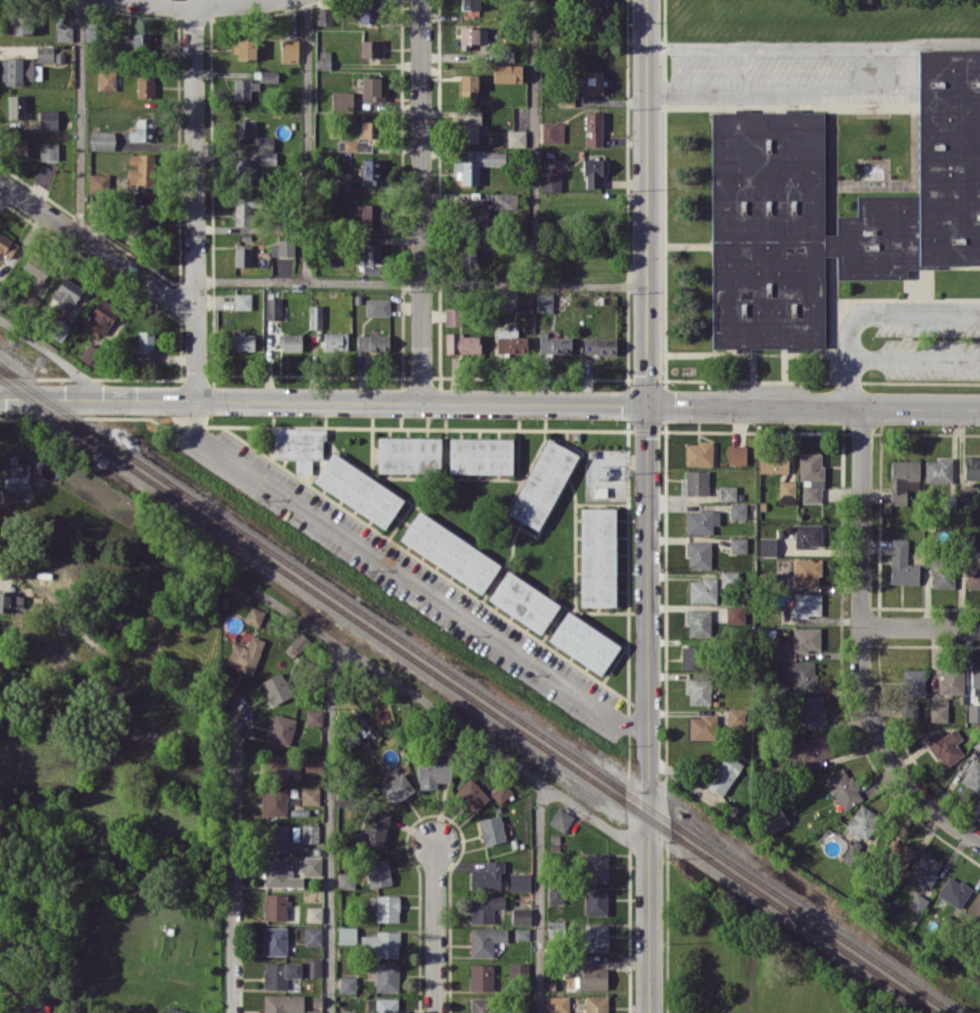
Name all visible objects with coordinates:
building: (469, 4)
road: (197, 5)
building: (593, 6)
building: (369, 11)
building: (324, 16)
building: (20, 24)
building: (64, 31)
building: (472, 36)
road: (936, 39)
building: (141, 43)
road: (770, 47)
building: (371, 48)
building: (246, 49)
building: (289, 50)
building: (45, 53)
road: (894, 68)
building: (19, 70)
building: (507, 73)
building: (268, 75)
building: (107, 80)
building: (595, 82)
building: (468, 85)
building: (145, 86)
building: (372, 87)
road: (770, 88)
building: (242, 89)
building: (342, 99)
building: (16, 106)
road: (78, 118)
building: (48, 119)
building: (469, 125)
building: (368, 128)
building: (593, 128)
building: (243, 129)
building: (143, 130)
building: (552, 131)
building: (516, 138)
building: (102, 140)
road: (307, 140)
road: (533, 142)
building: (354, 145)
building: (20, 148)
building: (266, 150)
building: (48, 151)
building: (477, 164)
building: (141, 169)
building: (243, 170)
building: (371, 170)
building: (592, 172)
building: (551, 180)
building: (342, 185)
road: (420, 200)
building: (505, 200)
road: (194, 203)
building: (918, 205)
building: (245, 209)
building: (370, 213)
building: (142, 214)
building: (475, 216)
building: (7, 246)
building: (282, 247)
road: (97, 248)
building: (243, 255)
building: (468, 256)
building: (371, 258)
building: (37, 270)
road: (421, 282)
building: (67, 292)
building: (242, 300)
building: (544, 301)
building: (524, 302)
building: (377, 306)
building: (273, 308)
road: (870, 309)
building: (103, 314)
building: (315, 316)
building: (453, 316)
building: (59, 329)
building: (335, 340)
building: (145, 341)
building: (244, 341)
building: (291, 342)
building: (373, 342)
building: (510, 342)
building: (462, 343)
building: (554, 344)
building: (599, 345)
building: (89, 353)
road: (55, 358)
road: (915, 360)
road: (490, 401)
building: (298, 445)
building: (698, 453)
building: (409, 454)
building: (737, 454)
building: (480, 455)
building: (774, 462)
building: (972, 467)
building: (938, 470)
building: (14, 471)
building: (811, 476)
building: (902, 479)
building: (697, 482)
building: (542, 483)
building: (358, 489)
building: (786, 491)
building: (728, 492)
building: (966, 500)
road: (647, 506)
building: (738, 510)
road: (861, 516)
building: (701, 521)
building: (807, 535)
building: (738, 545)
building: (767, 546)
building: (449, 551)
building: (698, 554)
building: (597, 556)
building: (902, 563)
building: (806, 572)
building: (971, 573)
building: (942, 574)
road: (406, 578)
building: (726, 578)
building: (702, 590)
building: (523, 601)
building: (11, 602)
building: (807, 604)
building: (735, 614)
building: (254, 615)
building: (698, 621)
road: (921, 626)
building: (806, 638)
building: (583, 642)
building: (298, 643)
building: (245, 655)
building: (692, 656)
building: (799, 673)
building: (975, 676)
building: (951, 681)
building: (914, 682)
building: (276, 688)
building: (698, 690)
railway: (477, 691)
railway: (465, 698)
building: (812, 709)
building: (938, 712)
building: (973, 712)
building: (735, 716)
building: (314, 717)
road: (450, 718)
building: (701, 727)
building: (281, 729)
building: (944, 745)
road: (887, 751)
building: (810, 752)
building: (313, 762)
building: (282, 767)
building: (433, 773)
building: (723, 774)
building: (972, 775)
building: (843, 787)
building: (396, 788)
building: (501, 791)
building: (472, 794)
building: (310, 796)
building: (273, 801)
building: (561, 819)
building: (774, 819)
building: (861, 820)
road: (330, 829)
building: (374, 829)
building: (492, 829)
building: (310, 833)
building: (277, 837)
building: (898, 858)
road: (230, 862)
building: (310, 865)
building: (595, 867)
building: (925, 868)
building: (378, 872)
building: (280, 873)
building: (487, 876)
building: (346, 880)
building: (520, 881)
building: (954, 891)
building: (556, 894)
road: (539, 898)
building: (595, 900)
building: (917, 902)
building: (274, 906)
building: (484, 907)
building: (387, 908)
building: (974, 911)
building: (314, 913)
building: (521, 915)
road: (434, 928)
building: (555, 929)
building: (521, 933)
building: (347, 934)
building: (312, 936)
building: (596, 937)
building: (275, 940)
building: (485, 940)
building: (380, 944)
building: (312, 967)
building: (518, 970)
building: (279, 973)
building: (590, 975)
building: (387, 976)
building: (481, 976)
building: (347, 984)
road: (28, 995)
building: (283, 1003)
building: (596, 1003)
building: (558, 1004)
building: (383, 1005)
building: (481, 1005)
building: (173, 1010)
building: (313, 1011)
building: (347, 1011)
building: (29, 1012)
building: (522, 1012)

